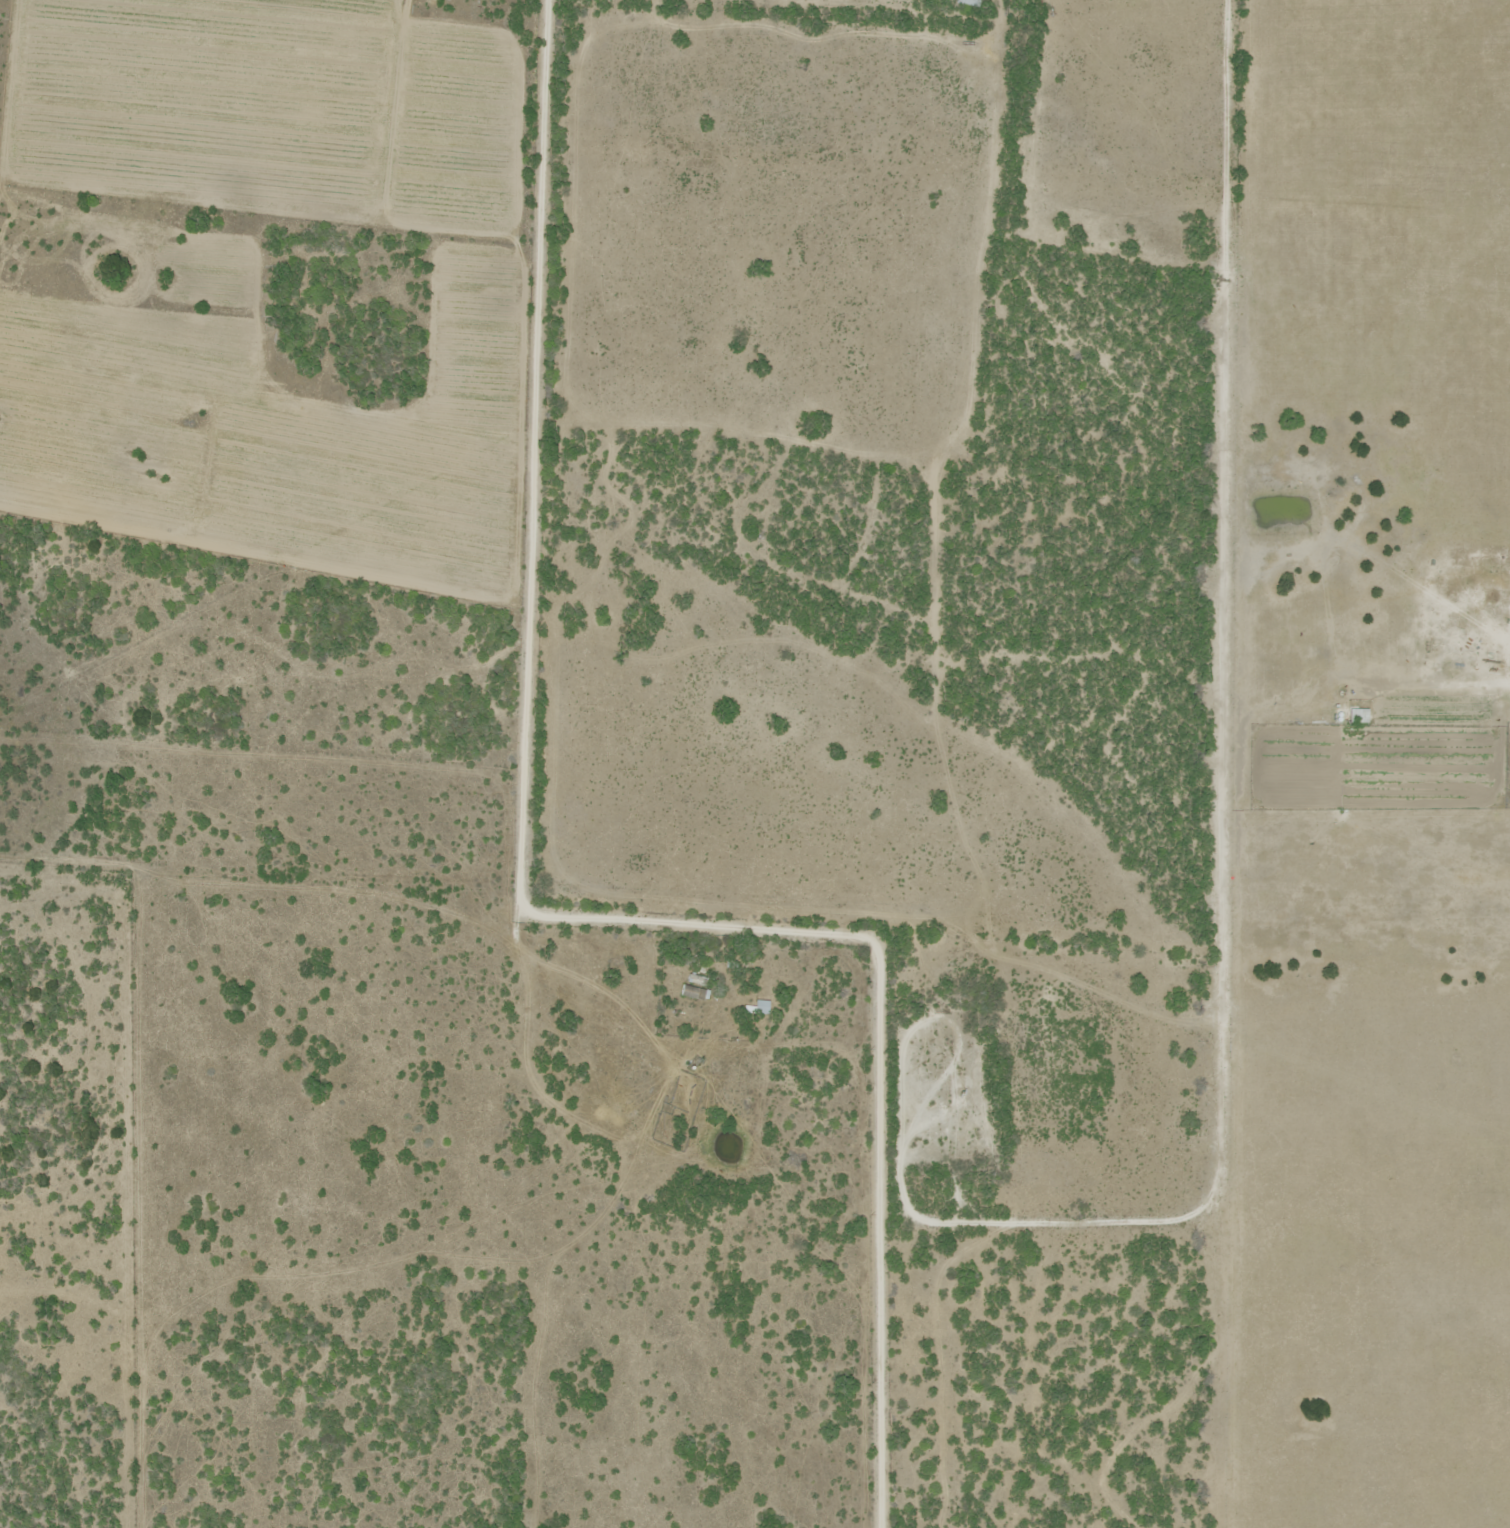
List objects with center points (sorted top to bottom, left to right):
building: (968, 2)
road: (477, 886)
building: (695, 979)
building: (691, 992)
building: (759, 1006)

